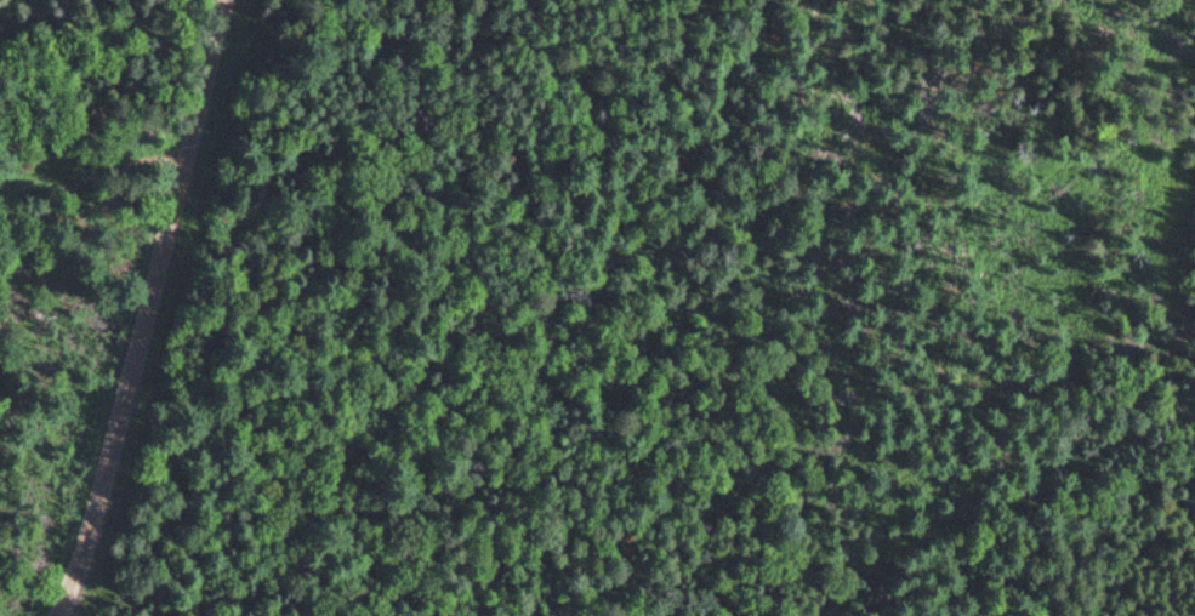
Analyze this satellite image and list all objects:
road: (90, 161)
road: (140, 308)

